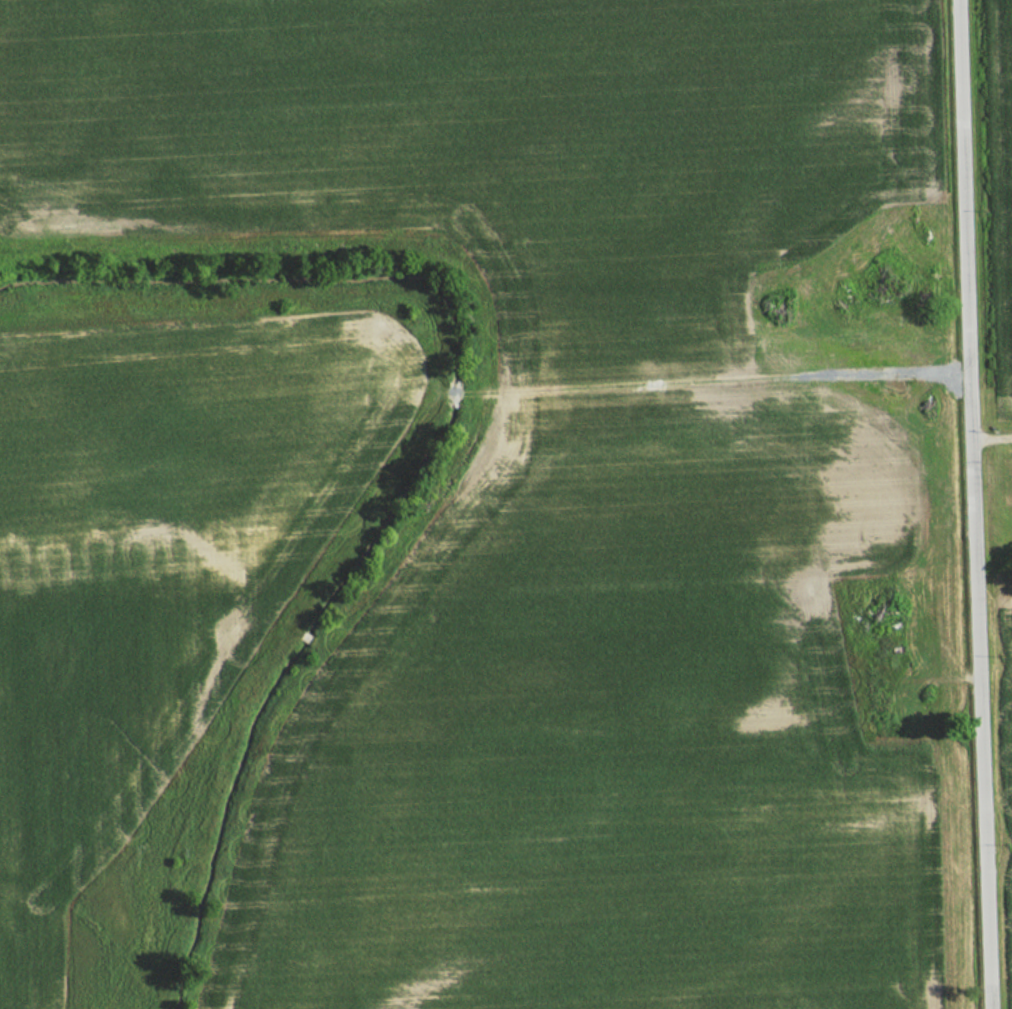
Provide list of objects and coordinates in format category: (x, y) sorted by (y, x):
road: (976, 504)

